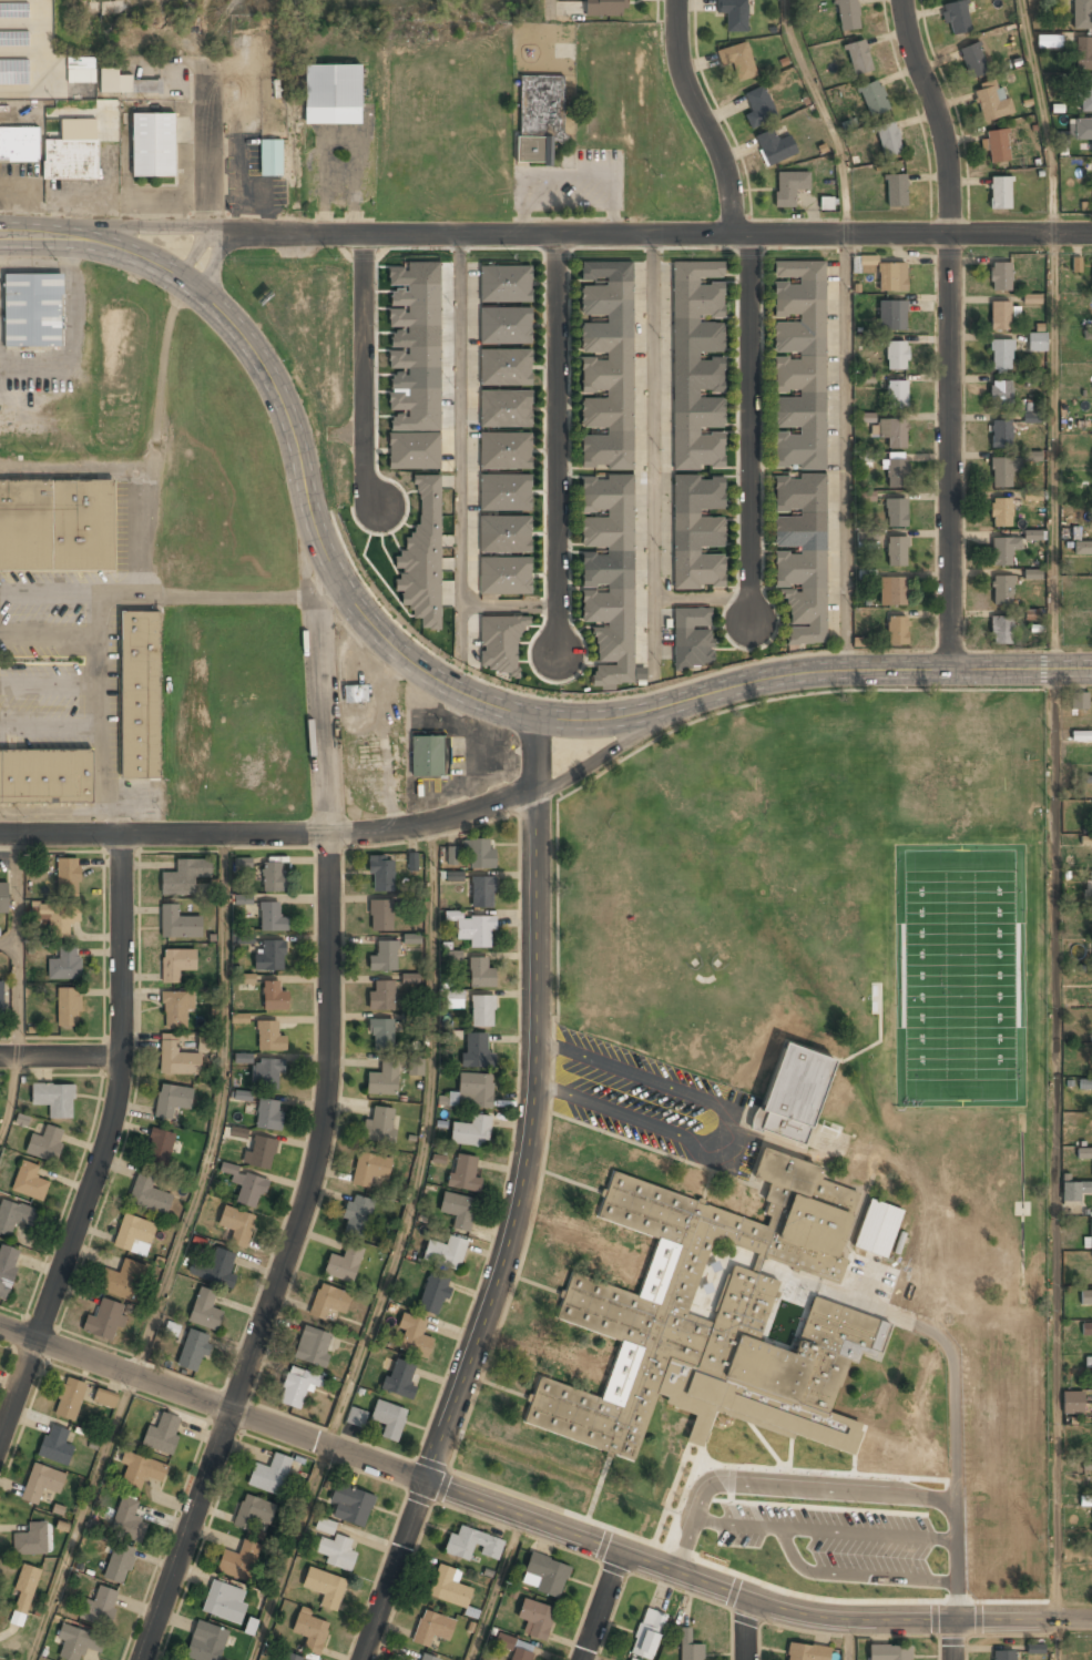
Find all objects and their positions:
building: (604, 8)
building: (13, 10)
building: (733, 13)
building: (847, 14)
building: (1082, 14)
building: (957, 16)
building: (13, 39)
building: (1044, 41)
building: (1083, 53)
building: (858, 55)
building: (973, 59)
building: (737, 60)
building: (81, 70)
building: (14, 72)
building: (125, 83)
building: (331, 94)
building: (1085, 94)
building: (872, 98)
building: (990, 102)
building: (758, 106)
road: (825, 114)
road: (1042, 115)
building: (538, 118)
road: (703, 118)
building: (1082, 130)
building: (888, 138)
road: (211, 141)
building: (18, 144)
building: (152, 145)
building: (996, 145)
building: (773, 146)
building: (271, 159)
building: (70, 160)
building: (788, 187)
building: (895, 189)
building: (1000, 192)
building: (825, 203)
road: (586, 235)
road: (41, 237)
building: (867, 264)
building: (891, 276)
building: (1000, 276)
building: (503, 284)
building: (1031, 298)
building: (32, 313)
building: (891, 315)
building: (1000, 315)
building: (503, 326)
road: (951, 332)
building: (1088, 334)
building: (1037, 342)
building: (415, 345)
building: (895, 355)
building: (1001, 355)
building: (800, 364)
building: (608, 365)
building: (697, 365)
building: (503, 368)
road: (364, 371)
building: (999, 391)
building: (896, 394)
building: (504, 409)
building: (1030, 417)
road: (749, 428)
building: (891, 430)
building: (1000, 435)
road: (156, 436)
road: (846, 437)
road: (457, 441)
road: (558, 445)
building: (414, 450)
building: (504, 451)
road: (651, 451)
road: (1052, 452)
building: (1001, 471)
building: (897, 472)
building: (503, 493)
building: (866, 496)
building: (895, 511)
building: (1000, 512)
building: (55, 527)
building: (697, 532)
building: (504, 534)
building: (1033, 534)
building: (1082, 547)
building: (1002, 550)
building: (896, 551)
road: (326, 556)
building: (800, 556)
building: (422, 557)
building: (1032, 573)
building: (503, 577)
building: (608, 577)
building: (892, 590)
building: (1001, 590)
road: (214, 593)
road: (685, 597)
road: (508, 602)
building: (897, 630)
building: (1000, 630)
building: (692, 638)
building: (860, 642)
building: (499, 643)
parking lot: (55, 659)
road: (888, 672)
building: (354, 693)
building: (137, 696)
building: (1080, 700)
building: (1081, 735)
building: (427, 756)
building: (47, 775)
road: (103, 790)
road: (359, 833)
building: (480, 854)
building: (412, 862)
building: (243, 863)
building: (380, 873)
building: (68, 876)
building: (184, 876)
building: (273, 877)
building: (1089, 887)
building: (482, 892)
building: (3, 898)
building: (244, 899)
building: (380, 915)
building: (58, 916)
building: (272, 917)
building: (177, 923)
building: (473, 929)
building: (412, 938)
building: (271, 955)
building: (453, 955)
building: (384, 956)
building: (64, 964)
building: (176, 964)
building: (481, 974)
building: (247, 978)
building: (411, 978)
road: (14, 991)
building: (274, 995)
building: (1, 996)
building: (381, 996)
building: (455, 999)
building: (68, 1006)
building: (176, 1007)
building: (482, 1010)
building: (239, 1018)
building: (381, 1032)
building: (269, 1035)
building: (206, 1042)
building: (477, 1051)
road: (61, 1057)
building: (176, 1057)
building: (243, 1057)
building: (416, 1068)
building: (266, 1072)
building: (384, 1079)
building: (1084, 1083)
building: (472, 1091)
building: (790, 1093)
road: (9, 1094)
building: (243, 1094)
building: (54, 1098)
building: (172, 1100)
parking lot: (649, 1104)
road: (220, 1111)
building: (269, 1113)
building: (379, 1126)
road: (318, 1129)
building: (471, 1132)
road: (425, 1142)
building: (45, 1143)
road: (104, 1147)
building: (160, 1147)
road: (1054, 1147)
building: (262, 1151)
building: (1085, 1153)
building: (370, 1168)
building: (465, 1173)
building: (29, 1181)
building: (245, 1184)
building: (1074, 1190)
building: (149, 1194)
road: (518, 1200)
building: (458, 1209)
building: (13, 1215)
building: (357, 1216)
building: (236, 1225)
building: (877, 1229)
building: (134, 1234)
building: (1090, 1234)
building: (918, 1240)
building: (446, 1251)
building: (344, 1264)
building: (7, 1267)
building: (216, 1269)
building: (876, 1275)
building: (122, 1280)
building: (433, 1293)
building: (1085, 1299)
building: (328, 1302)
building: (622, 1308)
building: (204, 1311)
building: (103, 1320)
road: (18, 1330)
building: (1086, 1330)
building: (414, 1336)
building: (313, 1346)
building: (193, 1351)
building: (1088, 1362)
building: (399, 1379)
building: (296, 1386)
building: (105, 1397)
building: (70, 1398)
building: (1072, 1403)
building: (881, 1405)
building: (356, 1417)
building: (389, 1418)
building: (162, 1434)
building: (55, 1445)
road: (957, 1452)
building: (141, 1470)
building: (269, 1473)
building: (41, 1483)
road: (823, 1494)
building: (1085, 1500)
building: (350, 1505)
building: (253, 1513)
road: (81, 1517)
building: (127, 1519)
road: (554, 1528)
building: (30, 1539)
building: (471, 1545)
parking lot: (871, 1548)
road: (288, 1552)
building: (336, 1552)
building: (239, 1560)
building: (118, 1562)
building: (544, 1576)
building: (325, 1587)
building: (449, 1587)
road: (496, 1588)
building: (23, 1595)
building: (224, 1602)
building: (100, 1606)
road: (602, 1606)
building: (534, 1619)
building: (432, 1628)
road: (746, 1629)
building: (309, 1630)
building: (647, 1633)
road: (845, 1640)
road: (958, 1641)
road: (1055, 1641)
building: (206, 1642)
building: (78, 1643)
building: (690, 1646)
building: (1034, 1648)
building: (807, 1652)
building: (888, 1652)
building: (522, 1654)
building: (1003, 1654)
building: (290, 1657)
building: (427, 1658)

